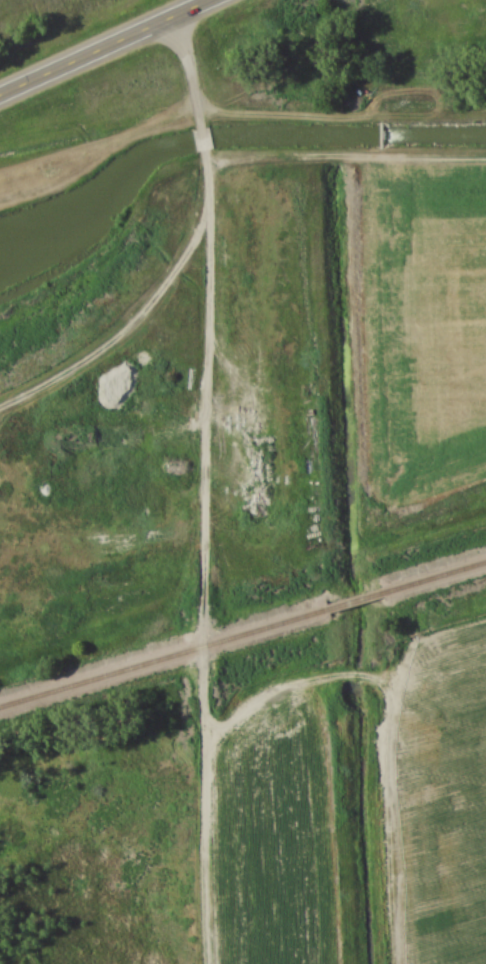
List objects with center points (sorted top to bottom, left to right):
road: (106, 47)
road: (297, 119)
road: (205, 120)
road: (207, 168)
railway: (435, 575)
road: (205, 581)
railway: (355, 599)
railway: (163, 657)

